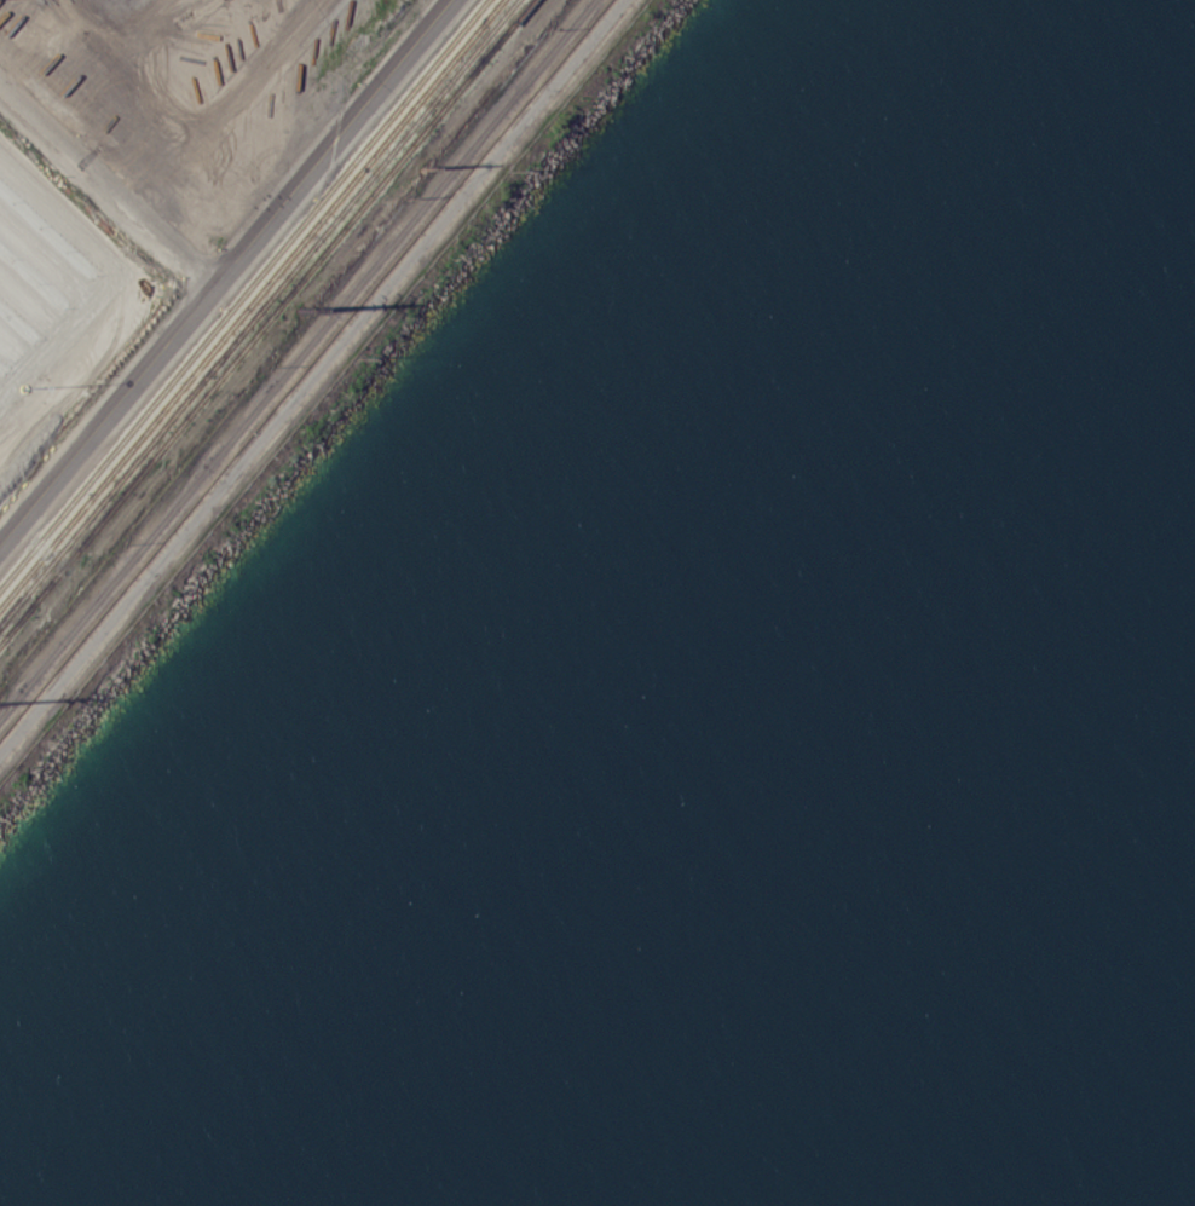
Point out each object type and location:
road: (239, 256)
railway: (242, 293)
railway: (250, 301)
railway: (256, 308)
railway: (265, 319)
road: (308, 375)
road: (110, 425)

